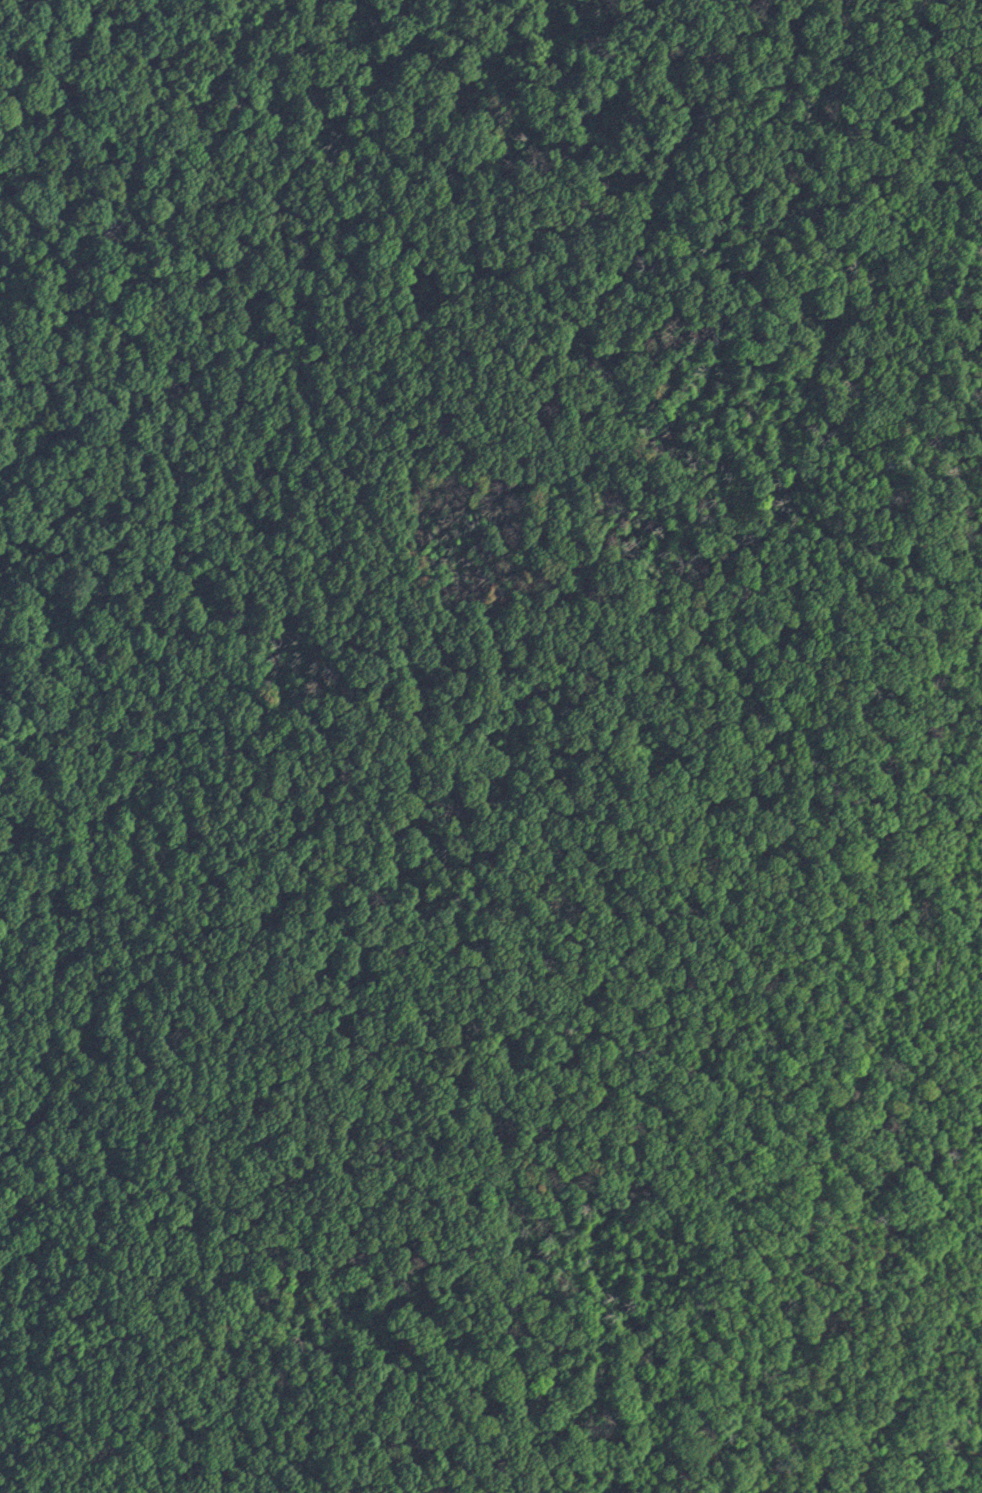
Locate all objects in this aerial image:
road: (978, 1482)

